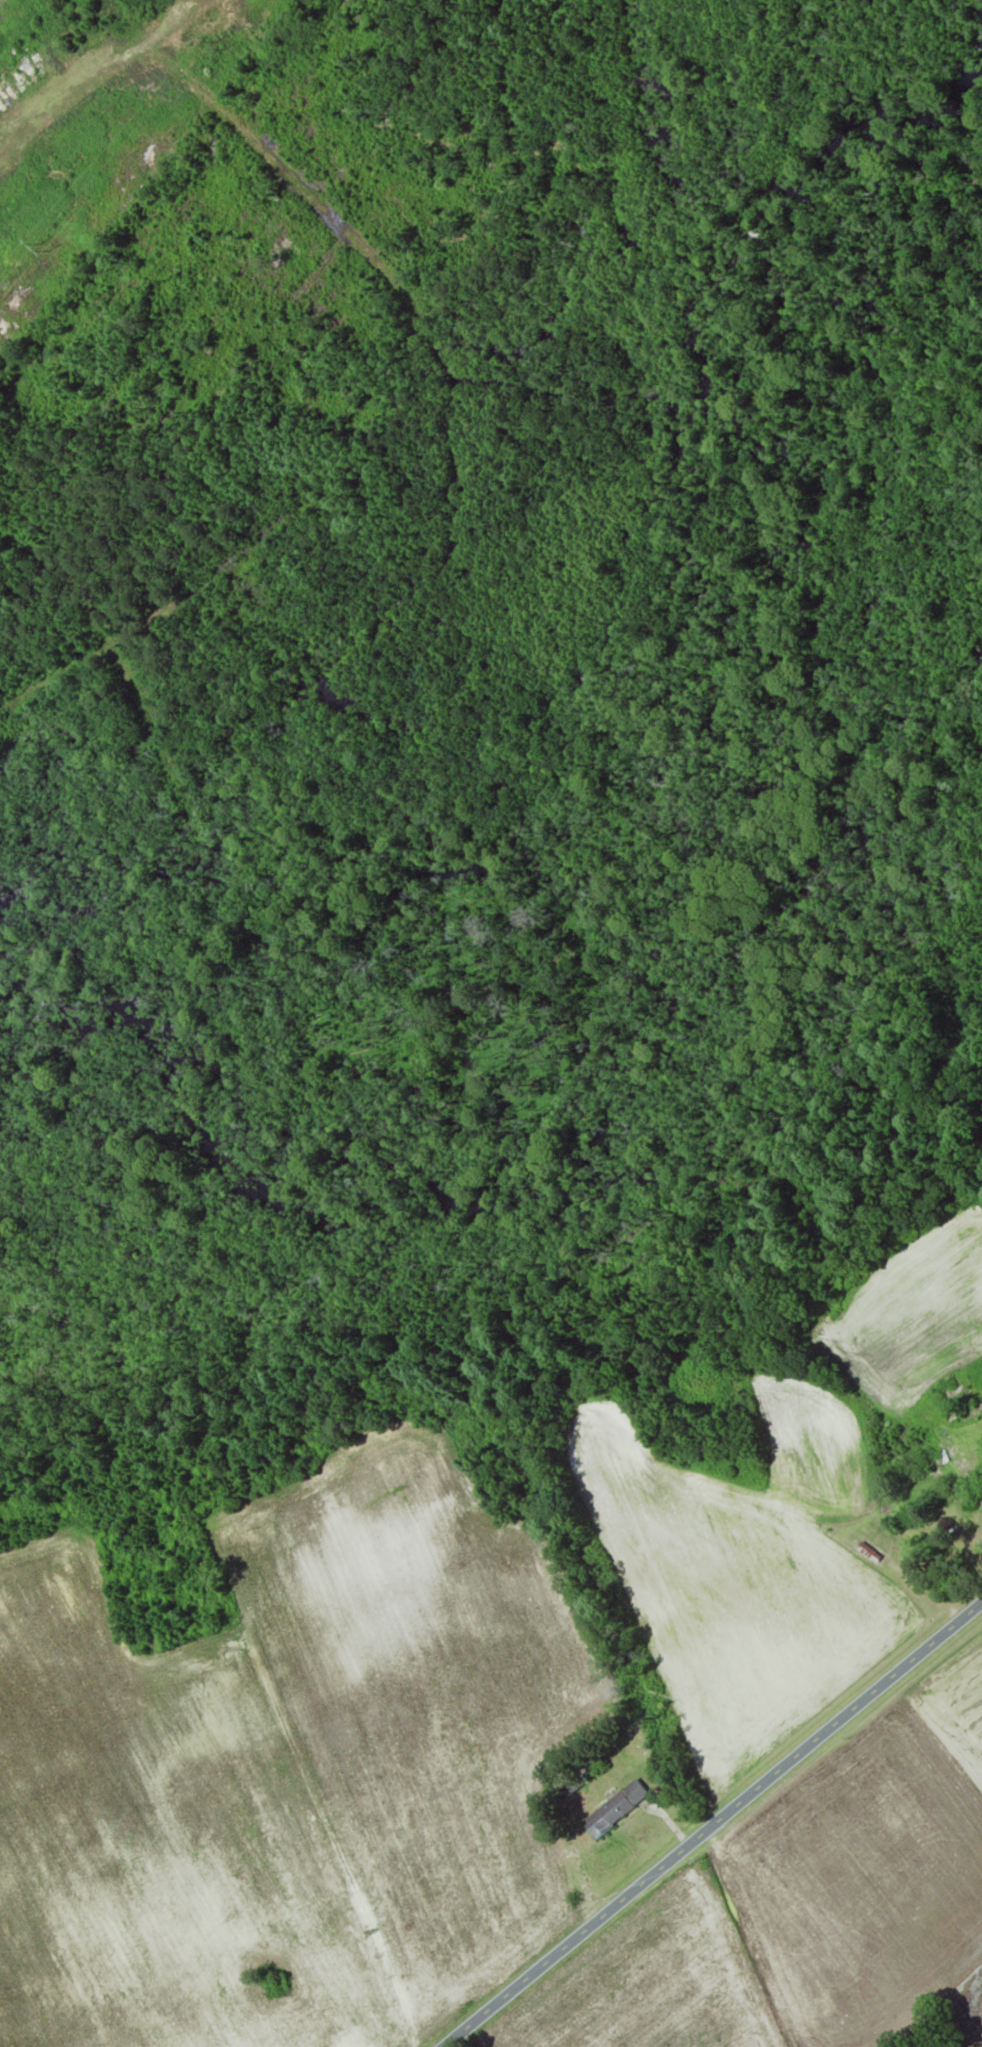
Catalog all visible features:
power tower: (218, 47)
power tower: (40, 247)
building: (866, 1554)
building: (612, 1809)
road: (710, 1824)

